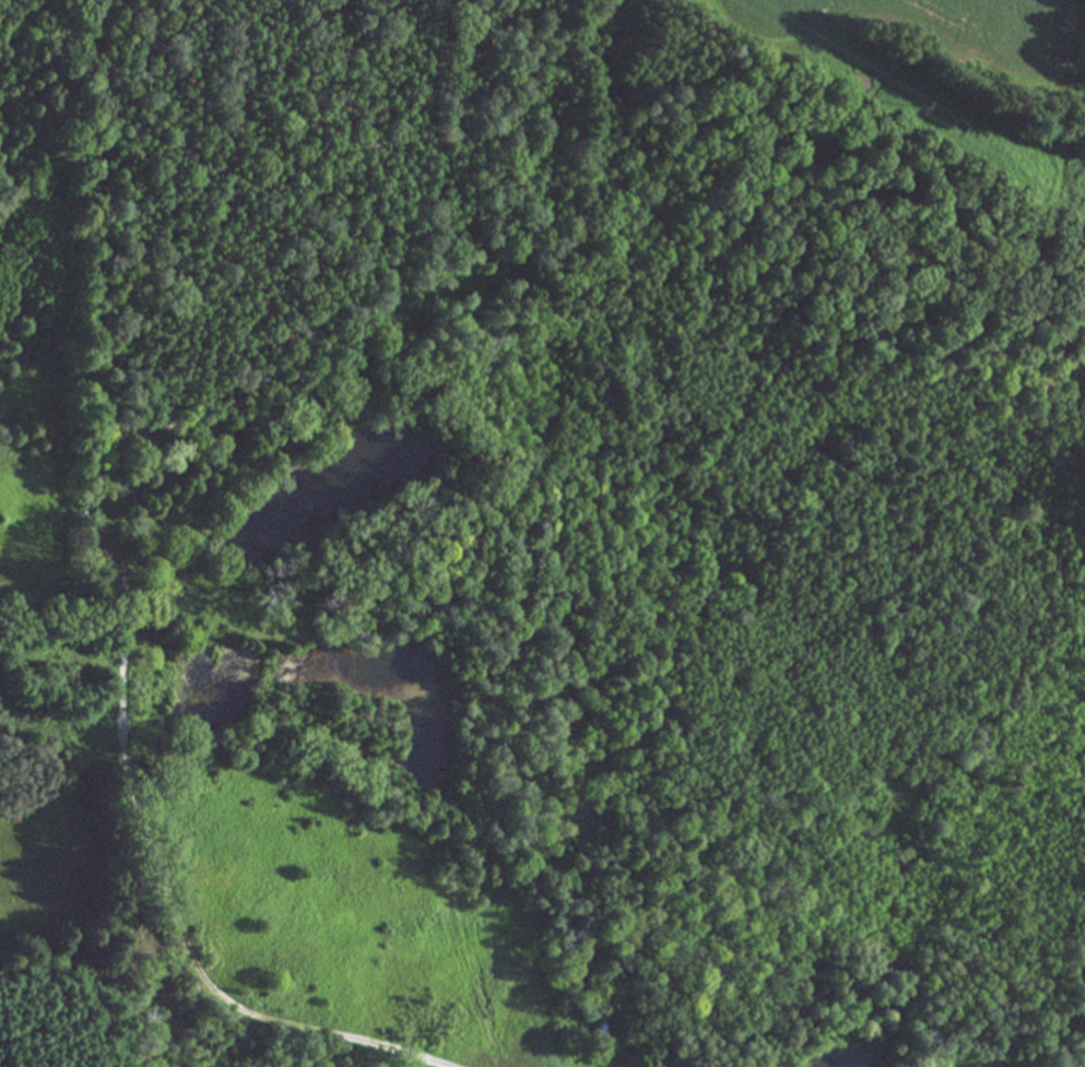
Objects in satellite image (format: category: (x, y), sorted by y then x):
building: (93, 543)
road: (188, 939)

